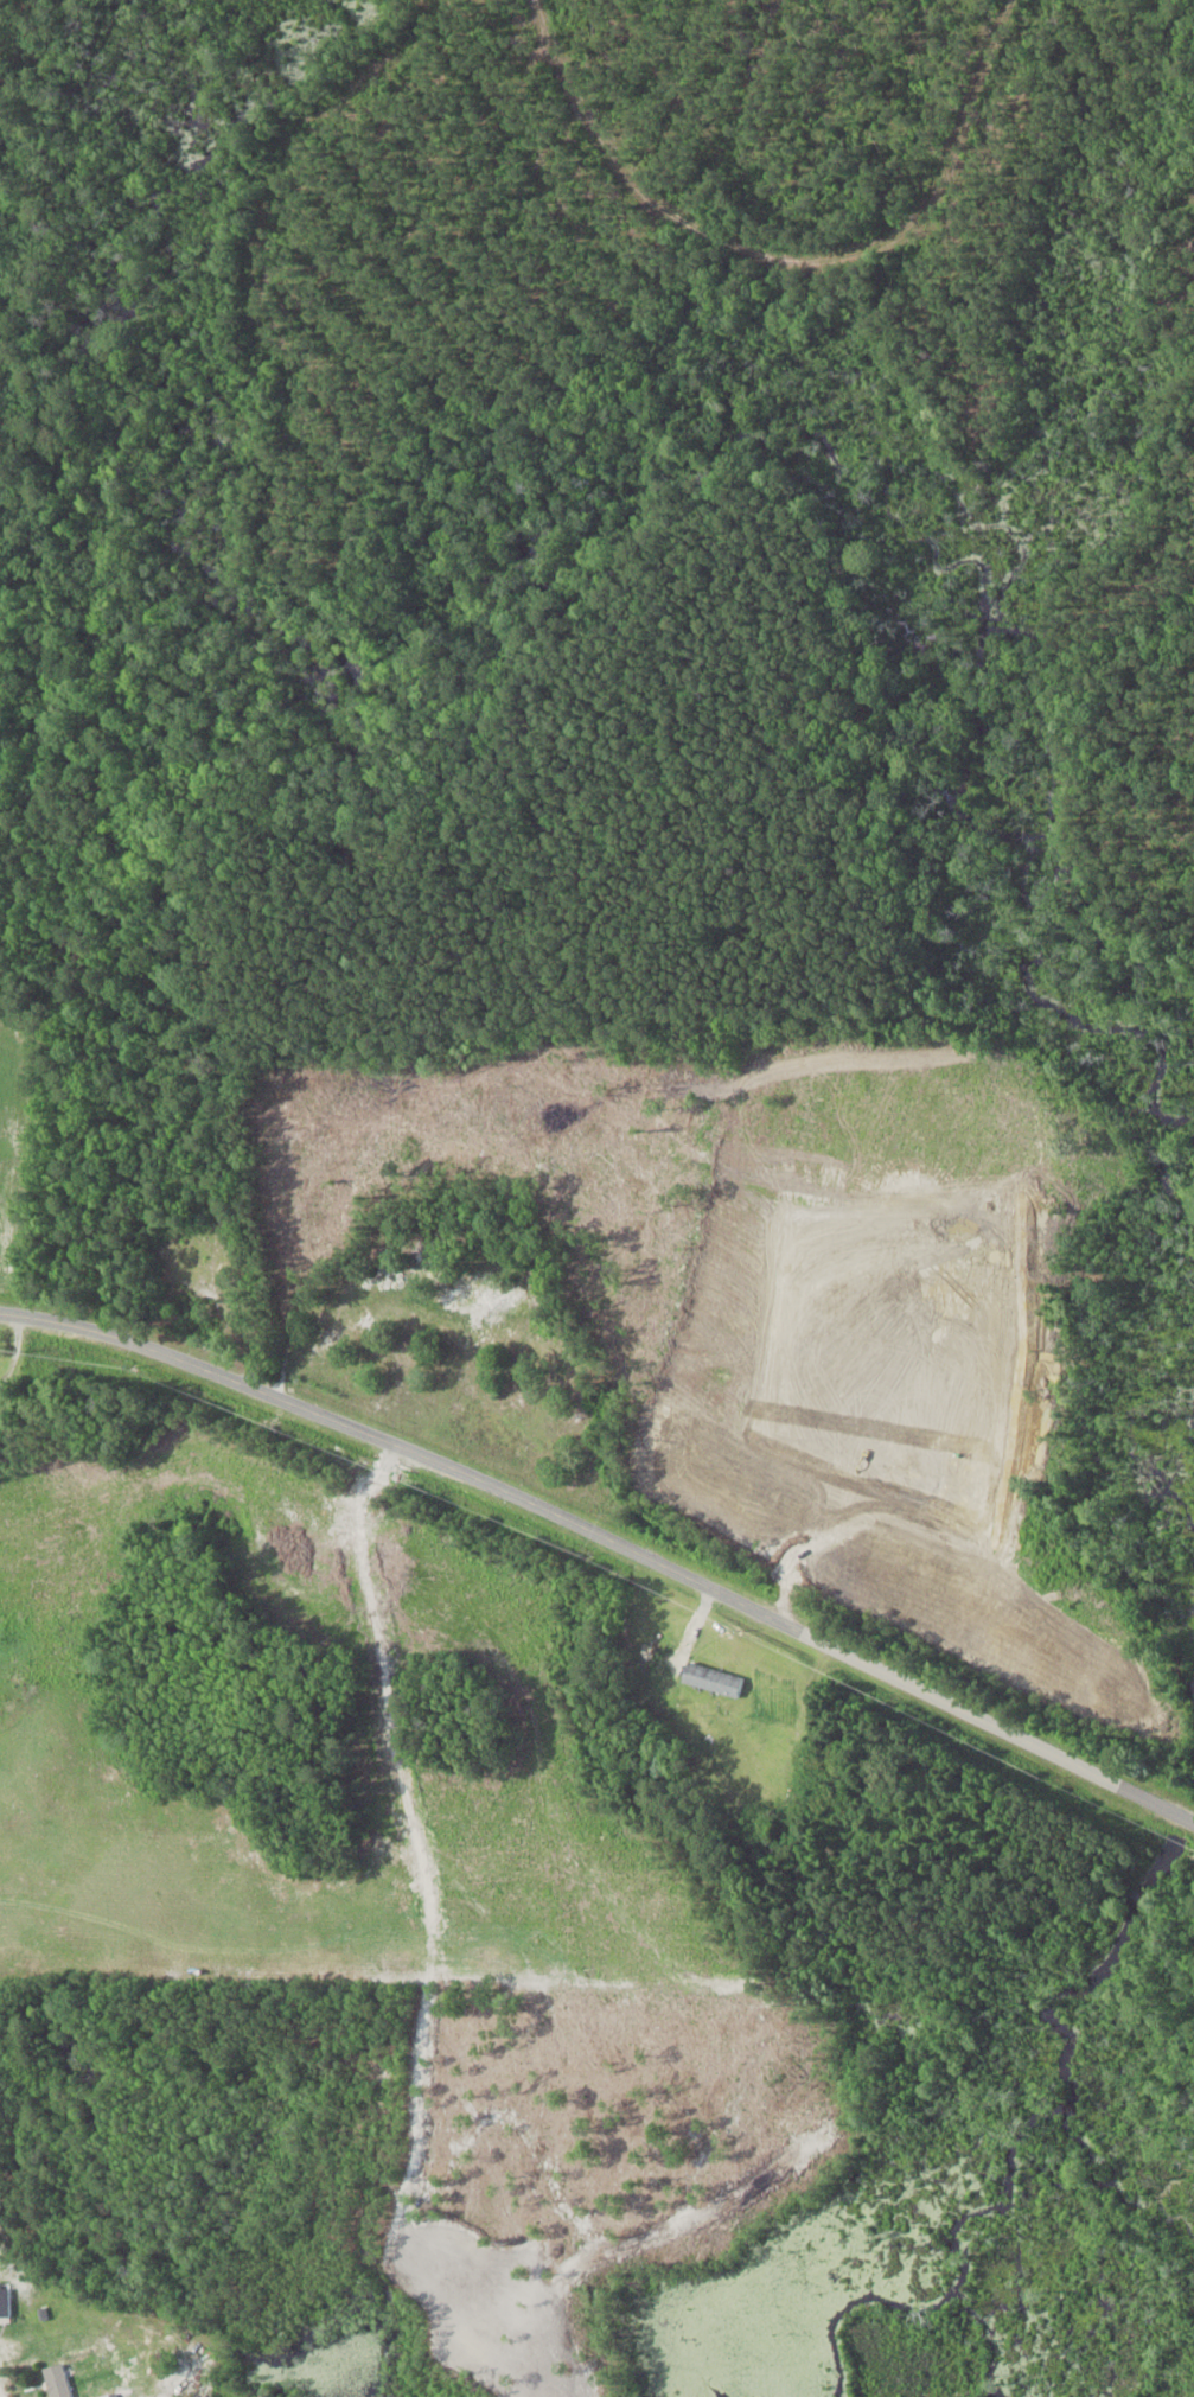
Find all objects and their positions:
building: (194, 1288)
building: (480, 1294)
road: (606, 1542)
building: (714, 1679)
building: (4, 2302)
building: (7, 2351)
building: (57, 2380)
road: (0, 2396)

